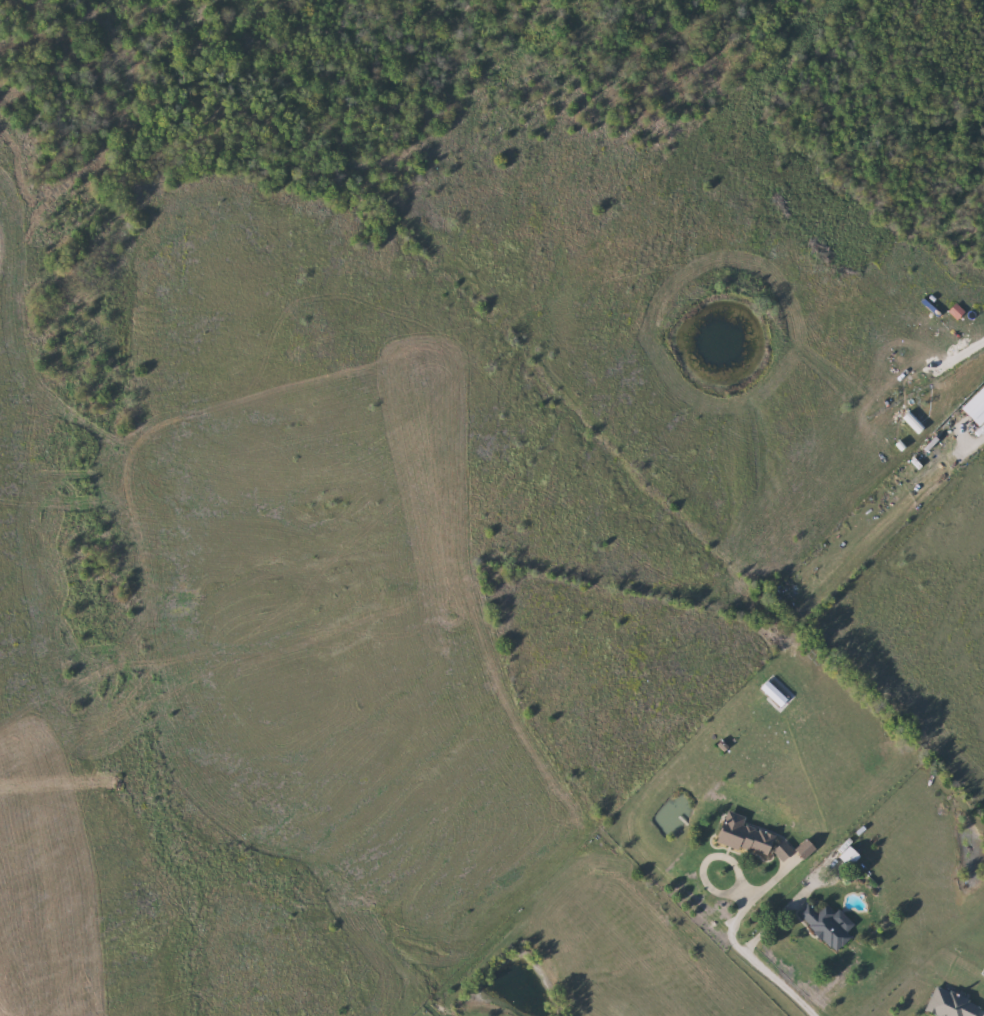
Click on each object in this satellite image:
building: (977, 407)
building: (748, 835)
building: (853, 856)
road: (779, 915)
building: (826, 926)
road: (744, 952)
building: (951, 1005)

